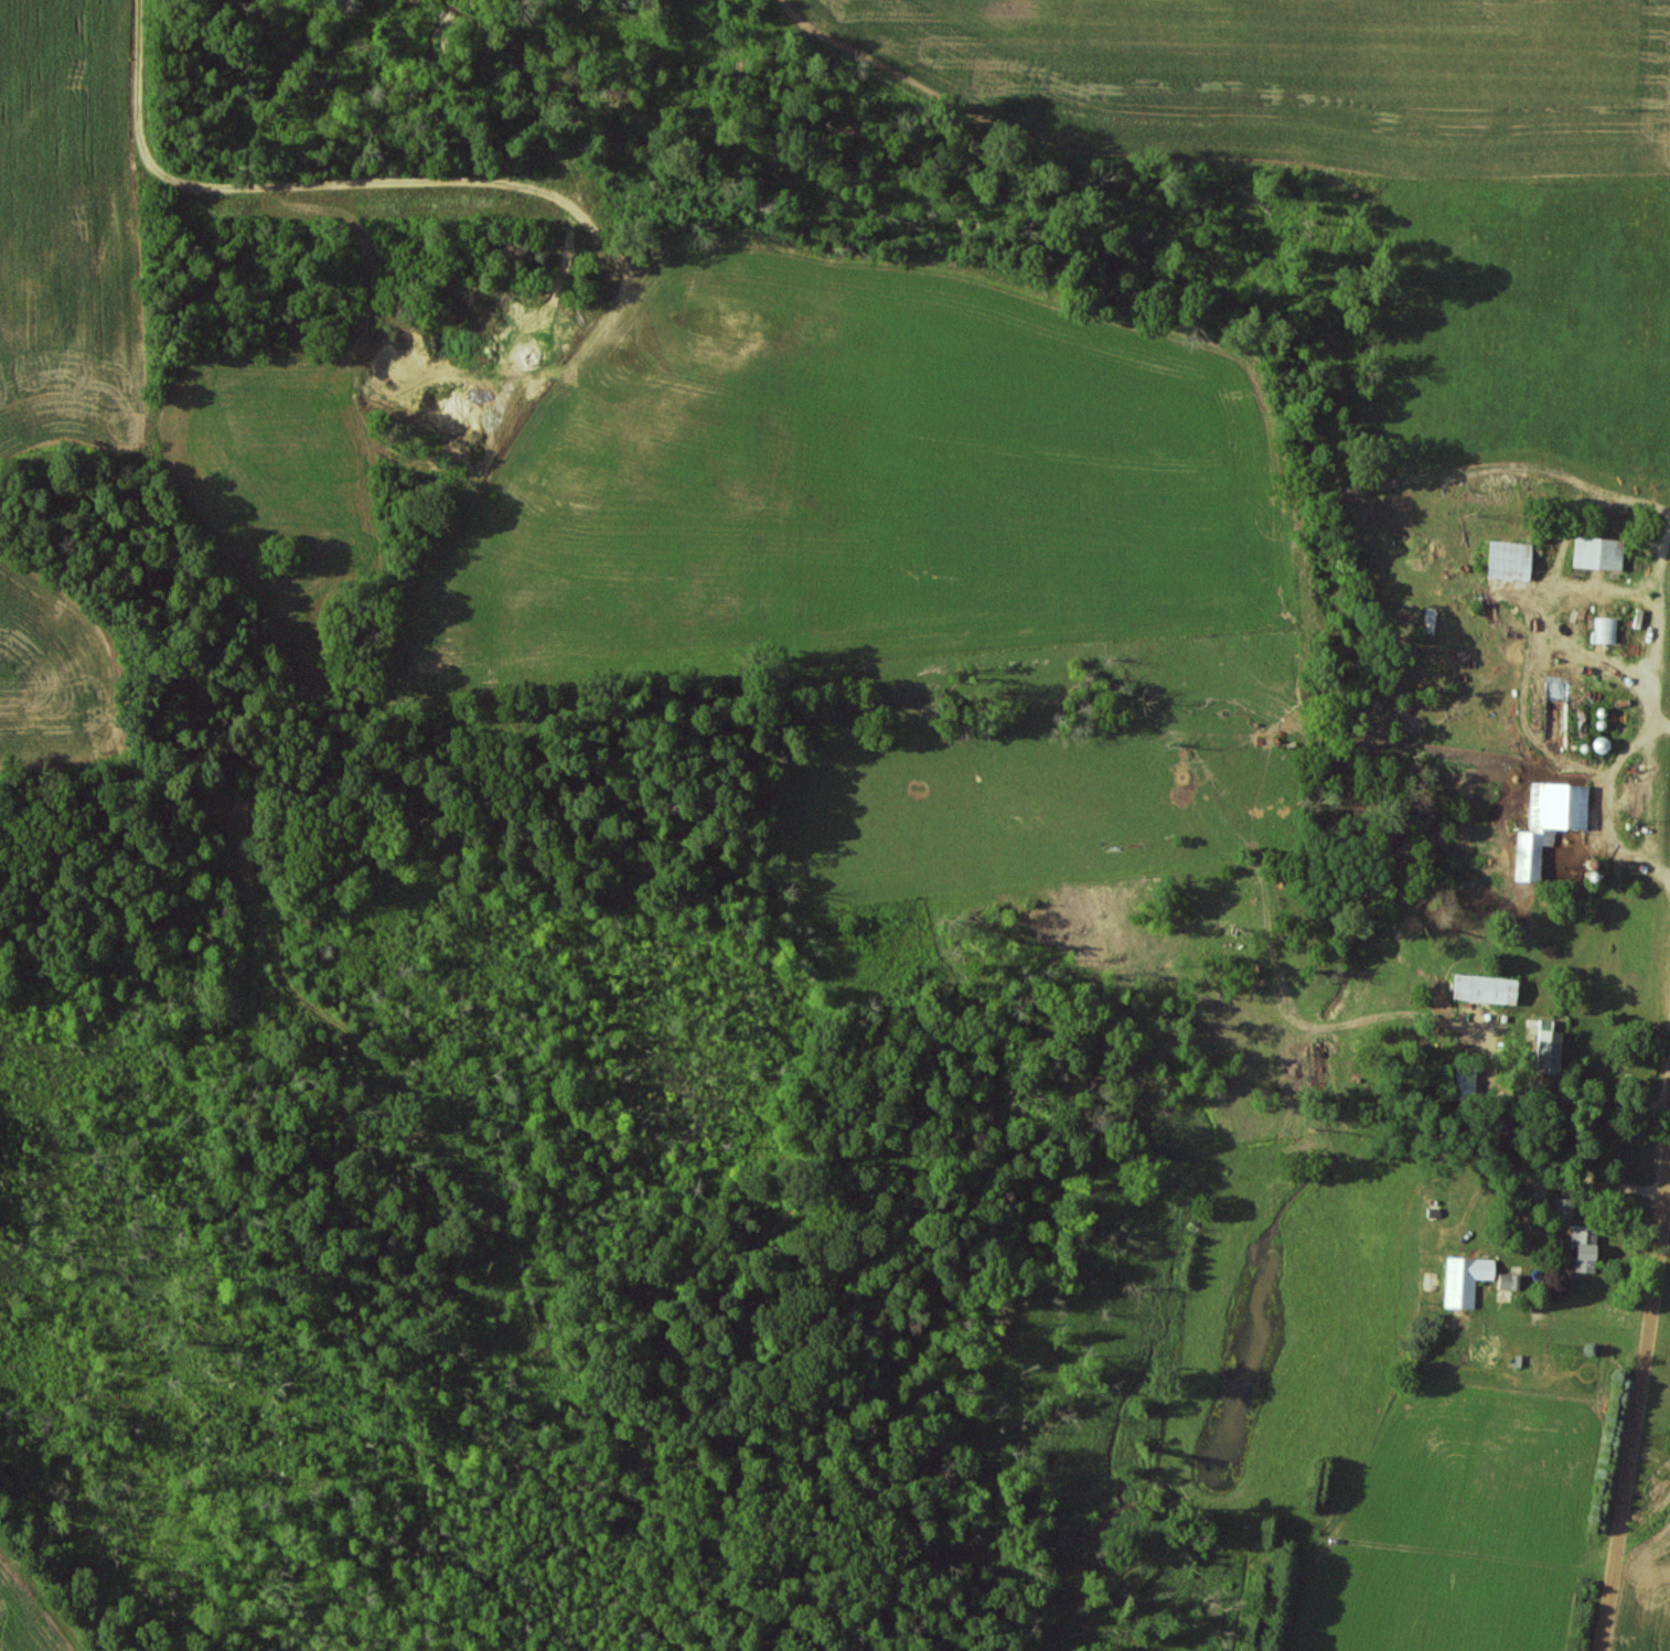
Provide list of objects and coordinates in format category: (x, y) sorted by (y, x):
building: (1596, 554)
building: (1507, 560)
building: (1605, 630)
building: (1548, 825)
building: (1481, 989)
building: (1543, 1053)
road: (1669, 1198)
building: (1560, 1208)
building: (1582, 1252)
building: (1465, 1280)
building: (1509, 1282)
road: (1637, 1413)

